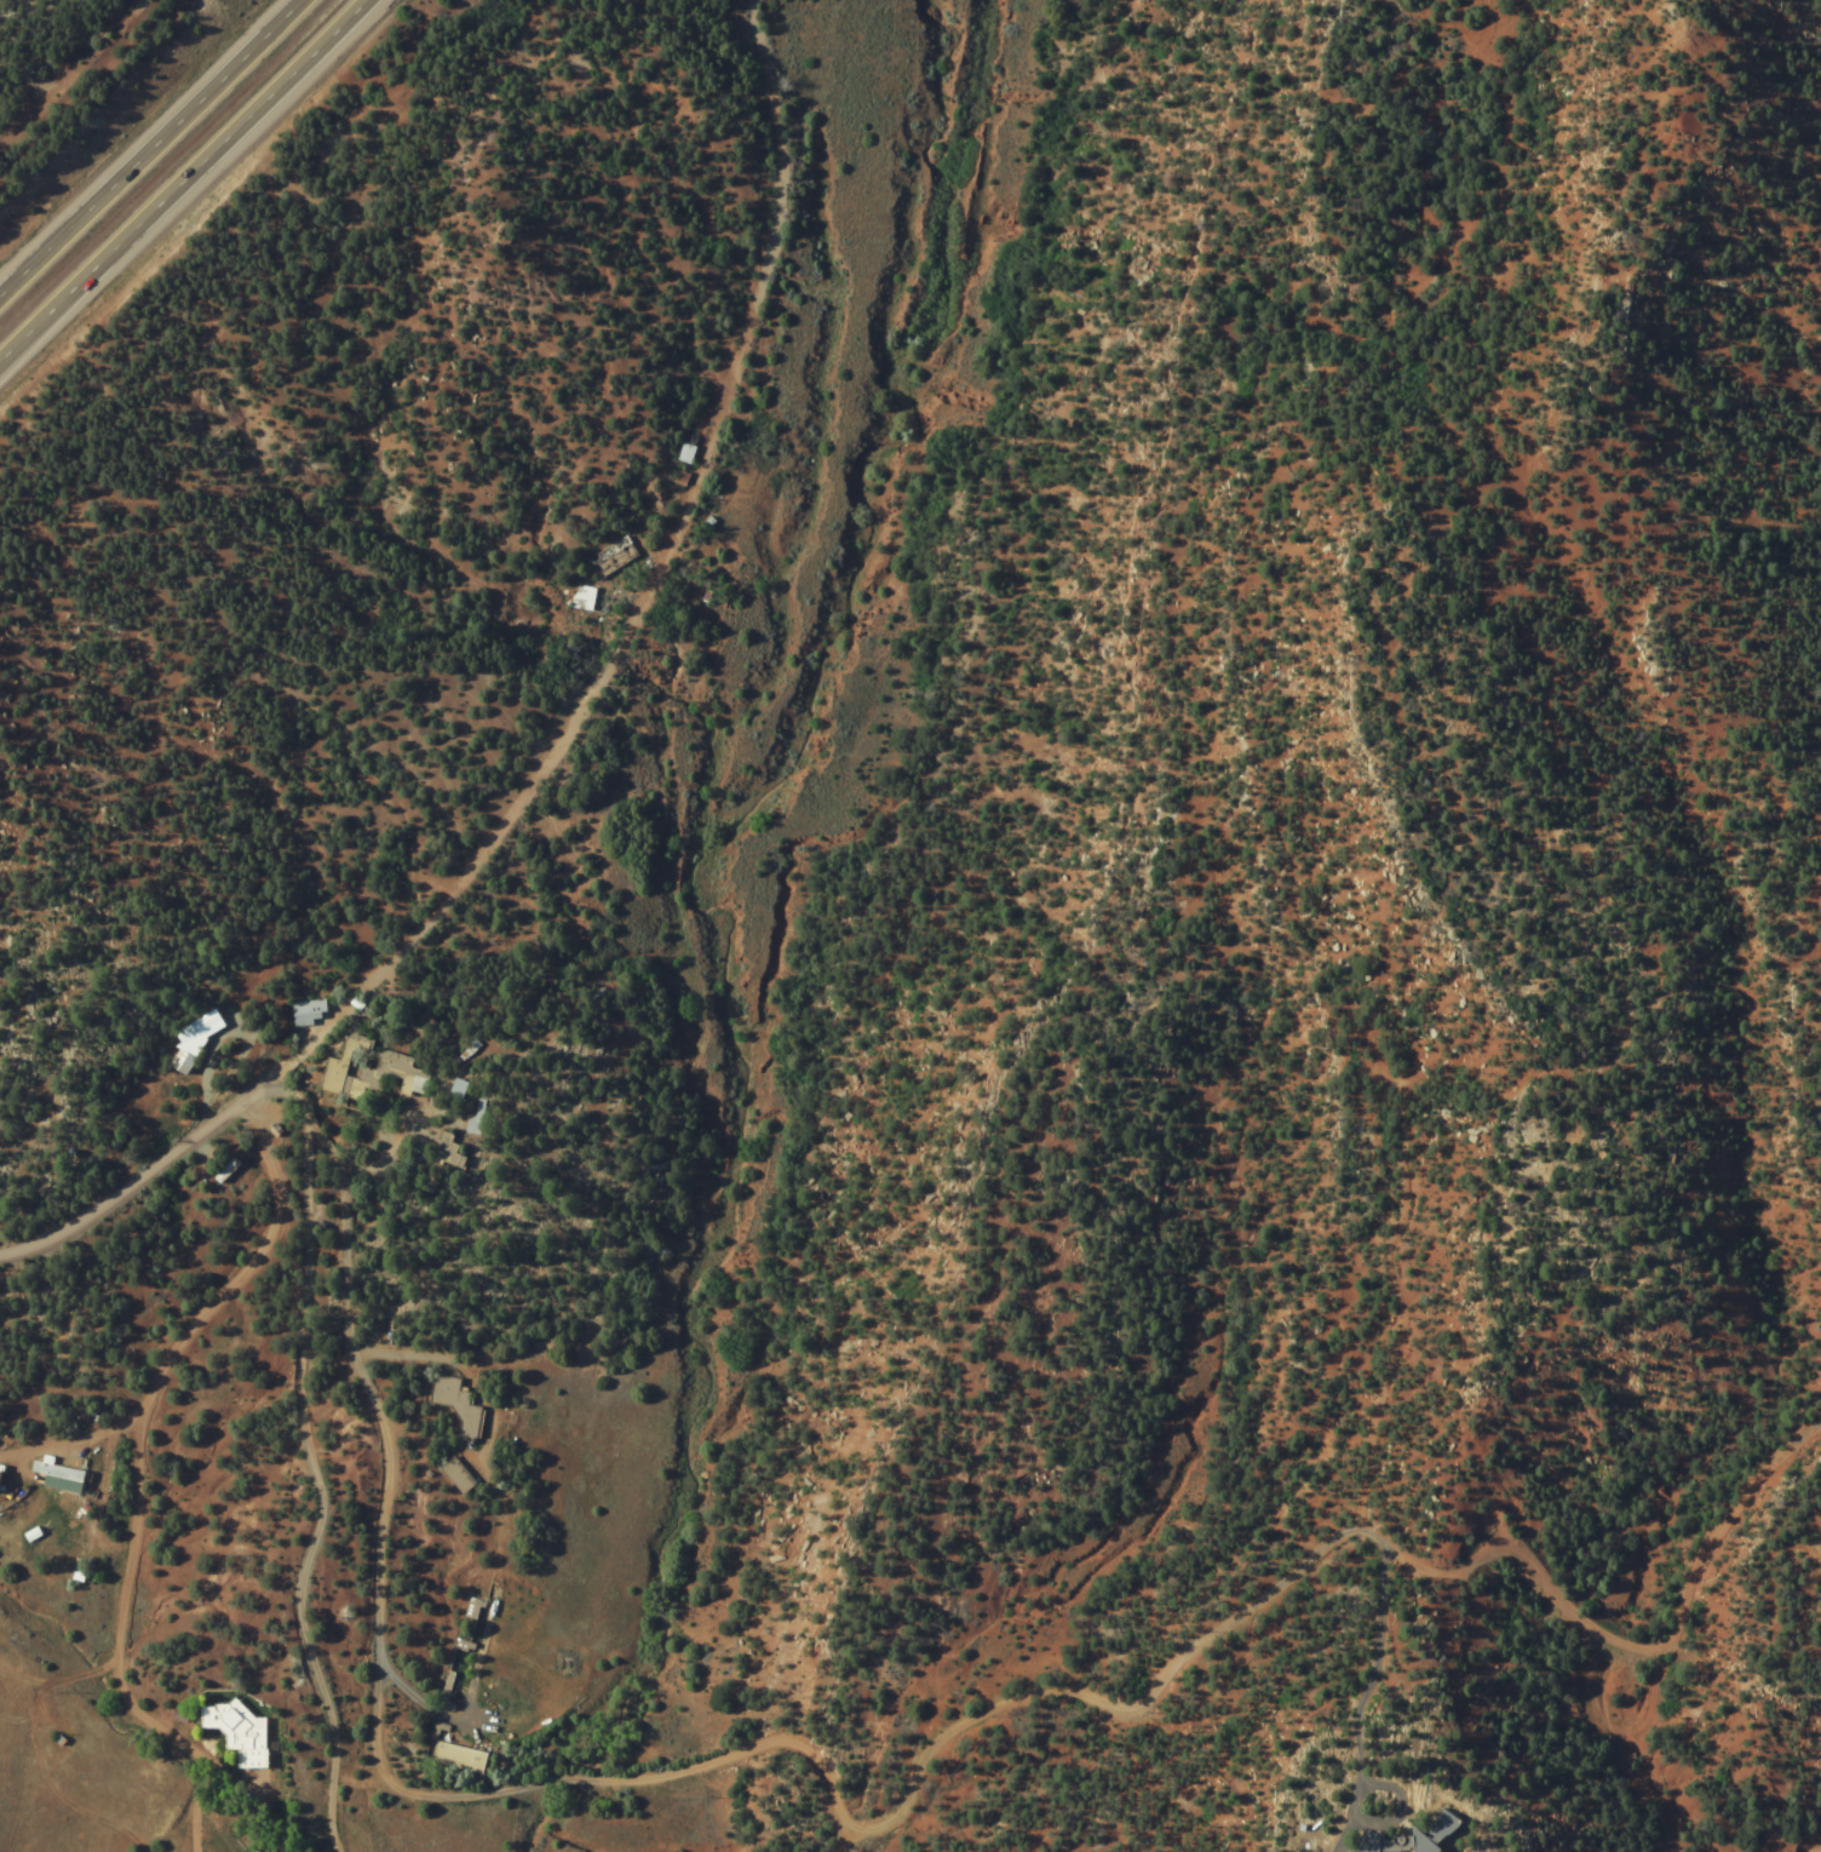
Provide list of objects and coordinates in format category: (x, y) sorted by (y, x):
road: (156, 151)
road: (183, 184)
building: (611, 557)
building: (581, 597)
road: (558, 727)
building: (308, 1013)
building: (196, 1026)
building: (180, 1062)
building: (370, 1071)
building: (456, 1089)
building: (444, 1145)
building: (225, 1171)
building: (456, 1405)
road: (126, 1427)
road: (65, 1443)
road: (1, 1456)
building: (63, 1473)
building: (455, 1475)
building: (471, 1609)
building: (236, 1732)
building: (458, 1758)
building: (1407, 1839)

